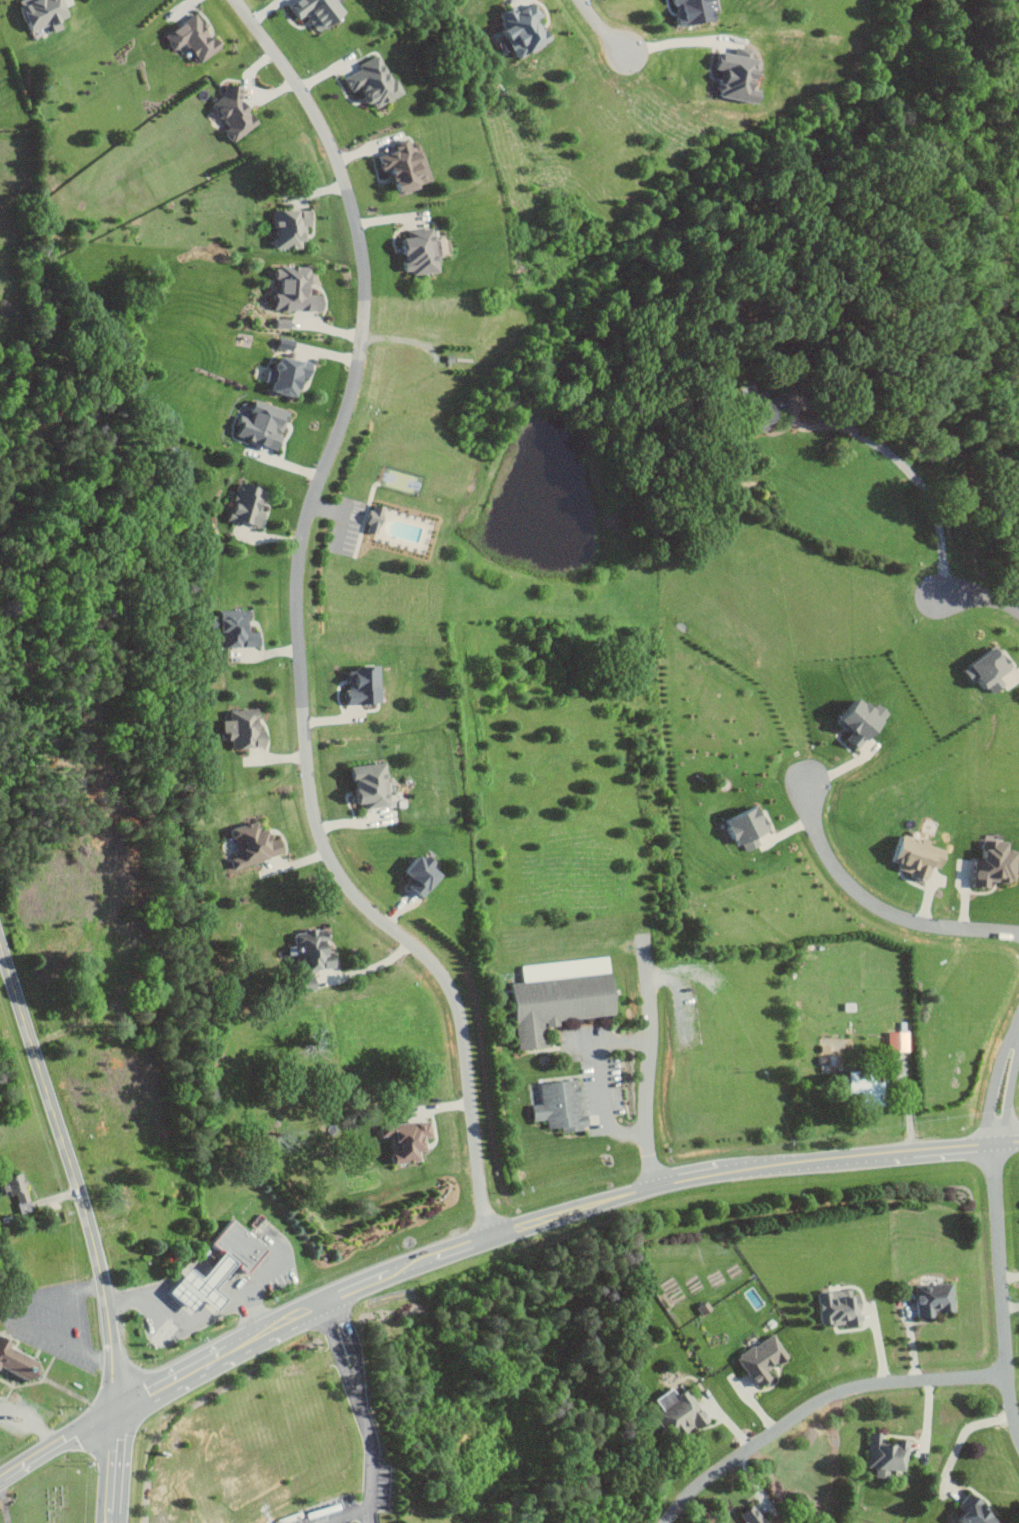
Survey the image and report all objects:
building: (700, 11)
building: (321, 12)
building: (47, 14)
road: (603, 26)
building: (529, 29)
building: (196, 37)
road: (680, 42)
building: (742, 78)
building: (376, 80)
building: (237, 110)
building: (410, 166)
building: (295, 227)
building: (423, 251)
building: (298, 289)
building: (286, 323)
building: (288, 343)
building: (291, 377)
building: (265, 424)
road: (915, 478)
building: (250, 505)
building: (377, 518)
road: (981, 596)
road: (297, 624)
building: (240, 631)
building: (980, 667)
building: (366, 685)
building: (846, 719)
building: (245, 727)
building: (373, 783)
building: (736, 822)
building: (745, 841)
building: (257, 843)
building: (909, 853)
building: (987, 863)
building: (427, 873)
road: (878, 907)
building: (555, 995)
building: (823, 1062)
building: (856, 1079)
road: (649, 1080)
road: (601, 1083)
road: (1005, 1086)
road: (908, 1103)
building: (554, 1104)
building: (411, 1139)
building: (18, 1187)
road: (629, 1194)
road: (89, 1227)
road: (197, 1263)
building: (224, 1267)
road: (264, 1278)
road: (999, 1288)
building: (928, 1299)
building: (834, 1308)
road: (188, 1319)
building: (18, 1358)
building: (756, 1359)
road: (128, 1400)
road: (818, 1406)
road: (361, 1409)
building: (672, 1412)
road: (31, 1422)
road: (926, 1427)
road: (964, 1435)
building: (882, 1453)
building: (966, 1513)
road: (342, 1514)
building: (744, 1515)
road: (328, 1521)

